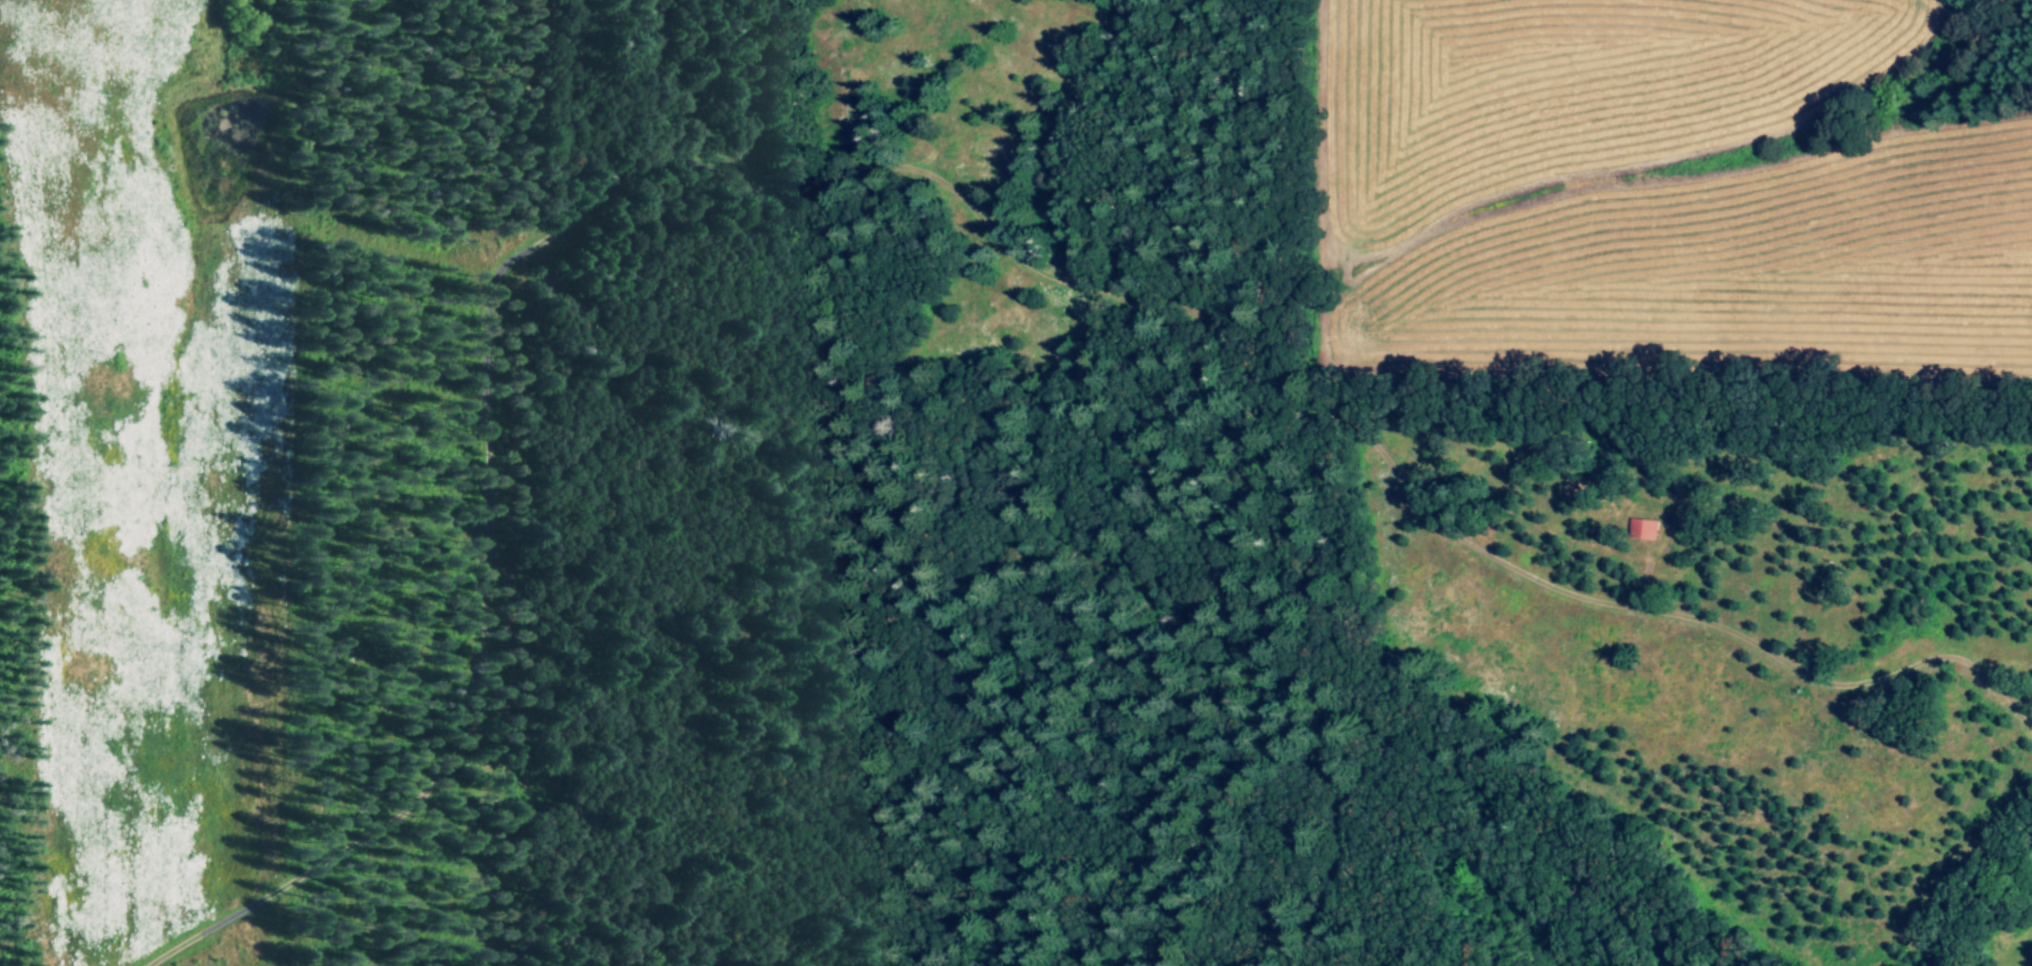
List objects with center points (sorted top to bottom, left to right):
building: (1646, 465)
building: (1645, 529)

